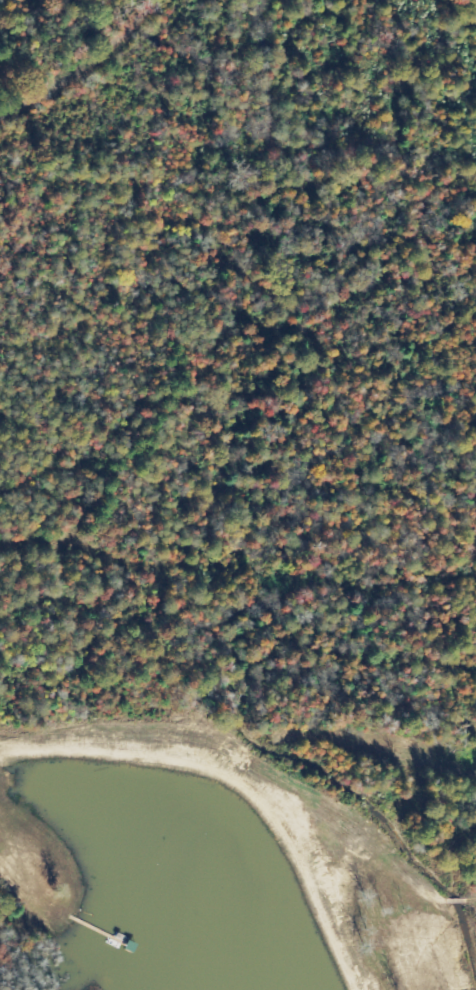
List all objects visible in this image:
road: (88, 69)

